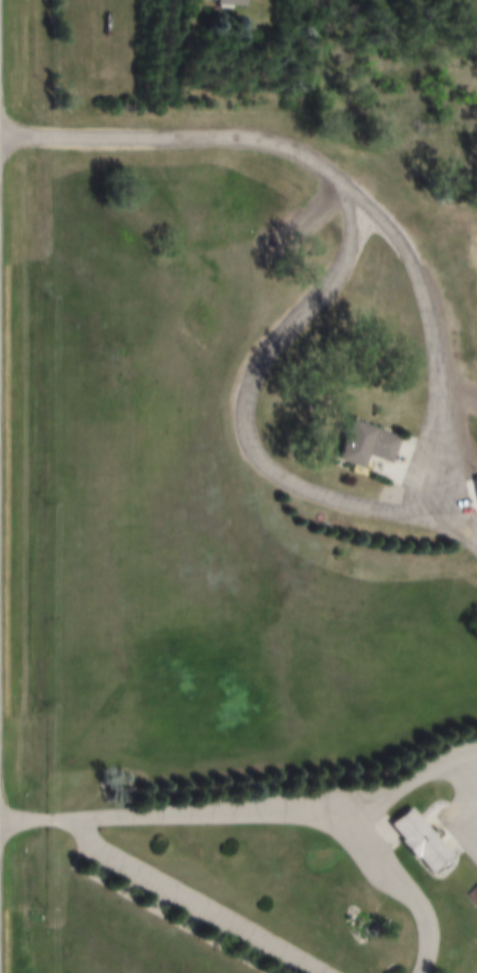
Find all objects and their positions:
building: (228, 3)
road: (189, 138)
building: (369, 446)
road: (388, 514)
road: (473, 526)
road: (462, 787)
road: (248, 813)
building: (424, 842)
road: (414, 888)
road: (184, 894)
building: (476, 901)

